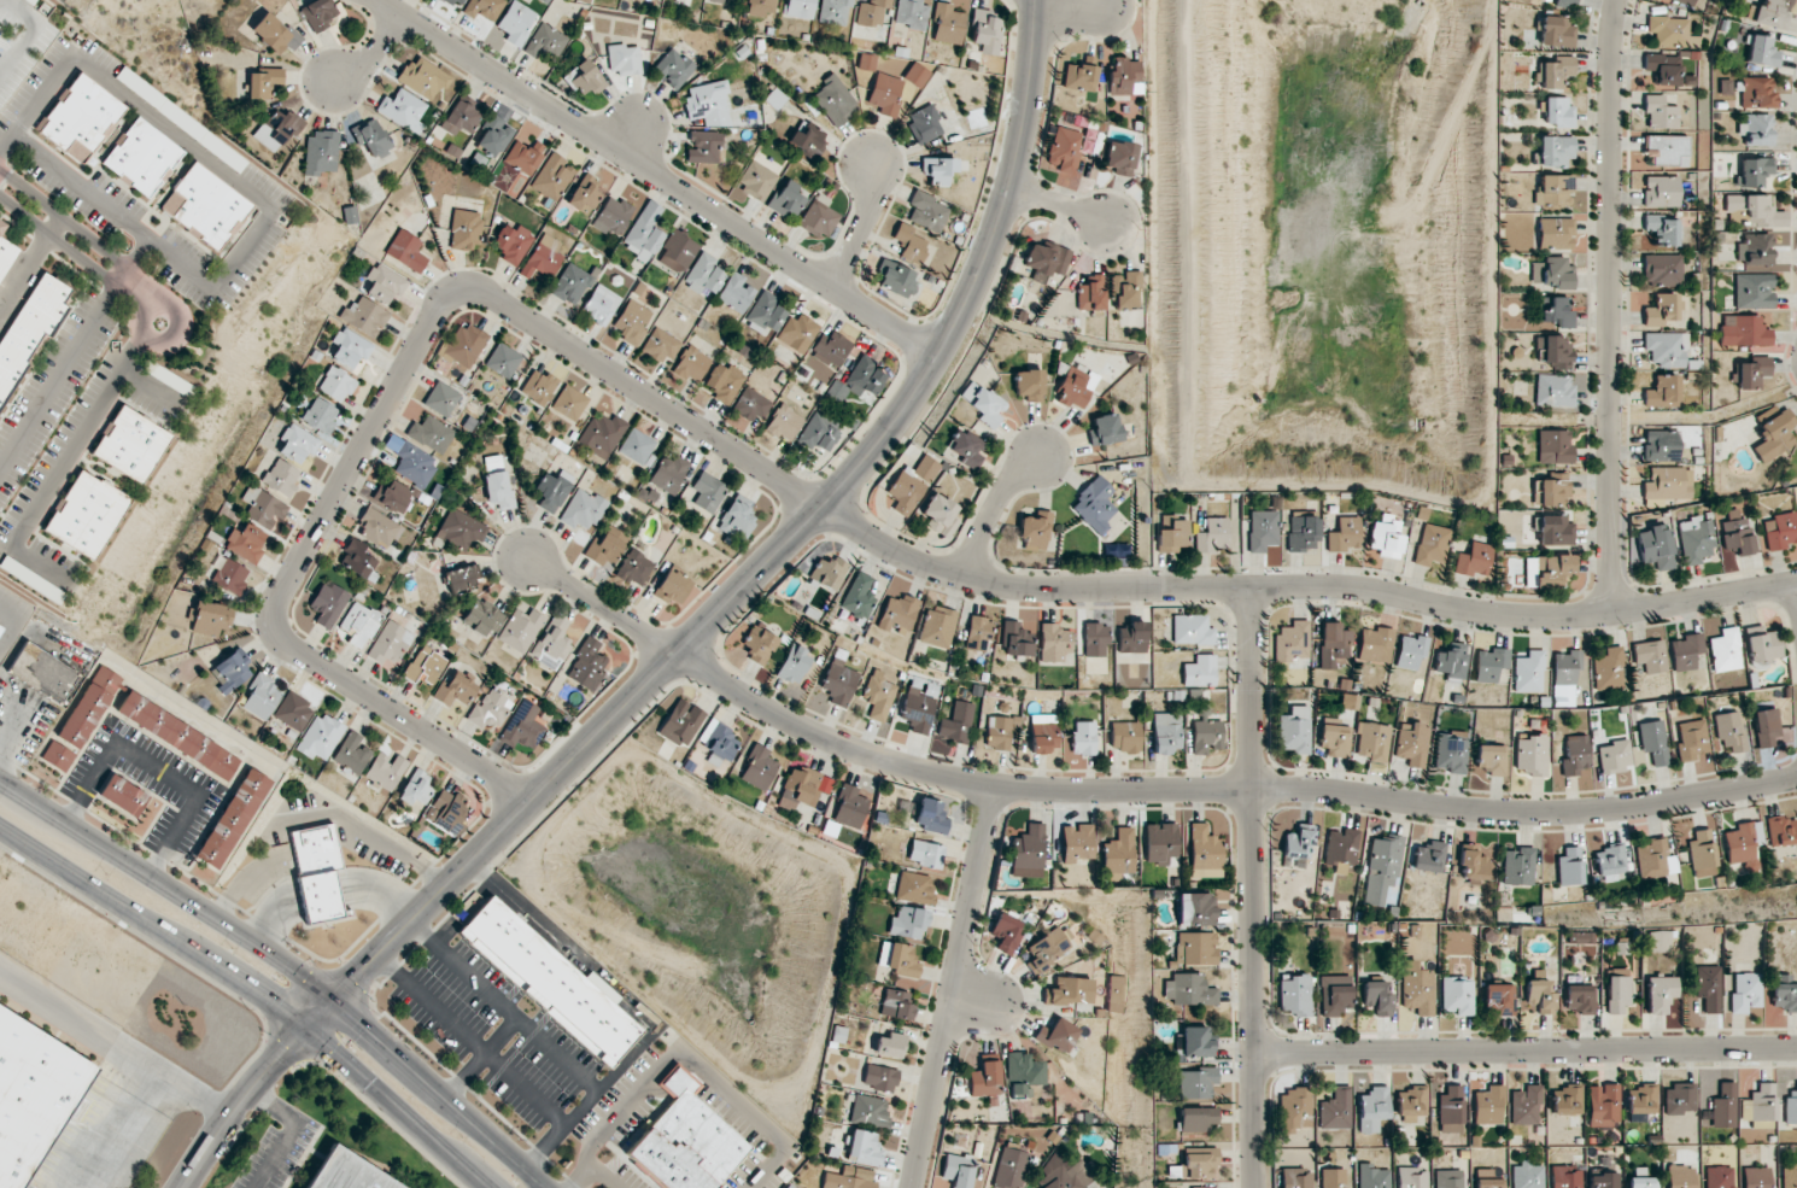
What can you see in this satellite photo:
building: (716, 0)
building: (1685, 1)
building: (456, 2)
road: (1085, 4)
building: (1564, 4)
building: (761, 7)
building: (482, 8)
building: (798, 8)
building: (833, 11)
building: (871, 12)
building: (318, 13)
building: (909, 13)
building: (1766, 13)
building: (515, 22)
building: (947, 24)
building: (1556, 30)
building: (1669, 30)
building: (984, 31)
building: (274, 34)
road: (25, 35)
building: (545, 41)
building: (1760, 51)
road: (374, 53)
building: (624, 59)
building: (866, 62)
building: (673, 68)
building: (1663, 68)
building: (1553, 71)
building: (1079, 74)
building: (915, 75)
building: (1124, 76)
building: (422, 77)
building: (585, 77)
building: (264, 81)
building: (1755, 93)
building: (884, 94)
building: (774, 98)
building: (833, 100)
building: (707, 103)
building: (402, 110)
building: (1557, 112)
building: (1660, 112)
building: (458, 117)
building: (80, 118)
building: (924, 123)
building: (277, 129)
building: (1755, 129)
building: (370, 136)
building: (493, 136)
building: (808, 140)
building: (703, 146)
building: (1064, 148)
building: (1667, 150)
building: (1555, 151)
building: (320, 152)
building: (523, 156)
building: (140, 157)
building: (1119, 157)
building: (937, 169)
building: (1754, 170)
road: (656, 175)
building: (552, 177)
building: (756, 180)
building: (1553, 189)
building: (1661, 191)
building: (584, 192)
building: (785, 199)
road: (1056, 203)
building: (204, 206)
building: (1755, 210)
building: (926, 211)
building: (611, 216)
building: (818, 217)
building: (1, 226)
building: (464, 228)
building: (1663, 229)
building: (643, 232)
road: (859, 232)
building: (1555, 233)
road: (75, 242)
building: (511, 242)
building: (908, 242)
building: (4, 250)
building: (405, 250)
building: (1754, 250)
building: (677, 251)
building: (542, 257)
building: (1046, 259)
building: (1662, 269)
building: (1552, 273)
building: (704, 274)
building: (894, 277)
building: (382, 282)
building: (570, 283)
building: (1125, 288)
building: (1752, 291)
building: (734, 293)
building: (1090, 294)
building: (599, 304)
road: (171, 305)
road: (1610, 305)
building: (1662, 310)
building: (765, 312)
building: (1556, 312)
building: (364, 315)
building: (631, 322)
building: (28, 326)
building: (1742, 330)
building: (796, 332)
building: (464, 345)
building: (660, 345)
building: (349, 347)
building: (830, 349)
building: (1666, 349)
building: (1552, 350)
building: (502, 359)
building: (691, 363)
building: (1750, 373)
building: (859, 376)
building: (722, 382)
building: (335, 384)
building: (1029, 385)
building: (538, 386)
building: (1075, 386)
building: (1553, 390)
building: (1662, 392)
building: (440, 398)
building: (568, 402)
building: (982, 403)
building: (750, 404)
building: (320, 415)
building: (784, 422)
building: (1104, 429)
building: (816, 432)
building: (1773, 432)
building: (429, 433)
building: (601, 434)
building: (297, 443)
building: (129, 444)
building: (1660, 445)
building: (636, 446)
building: (1553, 446)
building: (965, 447)
building: (410, 462)
building: (668, 472)
road: (769, 473)
building: (280, 478)
building: (912, 484)
building: (1668, 484)
building: (497, 485)
building: (551, 490)
road: (833, 490)
building: (1551, 490)
building: (707, 491)
building: (391, 496)
building: (1094, 505)
building: (263, 507)
road: (994, 508)
building: (87, 514)
building: (938, 514)
building: (734, 522)
building: (375, 527)
building: (461, 529)
building: (1262, 529)
building: (1552, 529)
building: (1034, 531)
building: (1779, 531)
building: (1303, 532)
building: (1735, 533)
building: (1171, 534)
building: (1345, 534)
building: (1212, 536)
building: (1386, 536)
building: (1694, 539)
building: (245, 542)
building: (1430, 544)
building: (604, 545)
building: (1653, 546)
building: (356, 558)
building: (1473, 560)
building: (633, 567)
building: (826, 572)
building: (230, 575)
building: (462, 578)
building: (30, 580)
building: (671, 585)
building: (857, 596)
building: (328, 603)
road: (599, 607)
building: (897, 614)
building: (481, 616)
building: (209, 618)
building: (359, 624)
building: (936, 626)
building: (0, 628)
building: (520, 630)
building: (1192, 630)
building: (977, 633)
building: (1131, 638)
building: (1094, 639)
building: (1014, 640)
building: (388, 644)
building: (757, 644)
building: (1054, 644)
building: (1333, 644)
building: (1374, 644)
building: (551, 646)
building: (1762, 646)
building: (1725, 650)
building: (1410, 651)
building: (1685, 651)
building: (1649, 656)
building: (1448, 662)
building: (1489, 663)
building: (586, 665)
building: (792, 665)
building: (423, 666)
building: (1608, 669)
building: (232, 671)
building: (1199, 671)
building: (1528, 672)
building: (41, 673)
building: (1564, 677)
building: (838, 681)
building: (453, 690)
building: (878, 695)
building: (261, 696)
building: (89, 707)
building: (918, 708)
building: (293, 710)
building: (490, 710)
building: (680, 722)
building: (956, 722)
building: (522, 726)
building: (1764, 727)
building: (1294, 730)
building: (1727, 731)
building: (997, 732)
building: (1165, 732)
building: (176, 735)
building: (1124, 736)
building: (1206, 736)
building: (318, 737)
building: (1043, 737)
building: (1083, 737)
building: (1334, 739)
building: (1690, 739)
building: (716, 742)
building: (1371, 742)
building: (1652, 742)
building: (1411, 743)
building: (1450, 751)
building: (351, 753)
building: (1529, 754)
building: (57, 755)
building: (1574, 755)
building: (1614, 756)
building: (1489, 759)
building: (757, 767)
building: (385, 769)
building: (415, 788)
building: (800, 788)
road: (1222, 788)
building: (123, 796)
building: (849, 807)
building: (446, 810)
building: (930, 815)
building: (232, 819)
building: (1781, 830)
building: (1159, 842)
building: (1298, 842)
building: (1076, 843)
building: (1743, 844)
building: (1340, 849)
building: (1026, 852)
building: (1117, 852)
building: (1202, 852)
building: (925, 853)
building: (1701, 853)
building: (1428, 856)
building: (1655, 859)
building: (1610, 860)
building: (1473, 865)
building: (1517, 866)
building: (1569, 866)
building: (1381, 868)
building: (317, 873)
building: (914, 888)
road: (1252, 888)
building: (1194, 908)
building: (908, 923)
road: (152, 924)
building: (1005, 932)
building: (1579, 937)
building: (1657, 941)
building: (1048, 948)
building: (1195, 948)
road: (379, 950)
building: (897, 959)
road: (286, 964)
building: (550, 982)
road: (950, 985)
building: (1708, 987)
building: (1416, 988)
building: (1187, 989)
building: (1069, 990)
building: (1617, 990)
building: (1744, 991)
building: (1116, 993)
building: (1539, 993)
building: (1660, 993)
building: (1783, 993)
building: (1294, 994)
building: (1334, 995)
building: (1456, 995)
building: (1376, 997)
building: (1580, 997)
building: (1498, 999)
traffic signals: (332, 1000)
building: (896, 1003)
traffic signals: (304, 1026)
building: (1055, 1035)
building: (1195, 1042)
building: (889, 1043)
road: (1524, 1049)
road: (687, 1060)
road: (103, 1066)
building: (1023, 1073)
building: (879, 1078)
building: (984, 1079)
building: (1195, 1083)
building: (31, 1094)
building: (1679, 1099)
building: (1565, 1100)
building: (1641, 1100)
building: (1411, 1104)
building: (1758, 1104)
road: (239, 1105)
road: (398, 1105)
building: (1488, 1105)
building: (1524, 1105)
building: (1603, 1105)
building: (1723, 1106)
building: (1791, 1106)
building: (1372, 1108)
building: (868, 1110)
building: (1294, 1110)
building: (1335, 1110)
building: (1450, 1110)
building: (1198, 1118)
road: (288, 1131)
building: (686, 1140)
building: (864, 1147)
building: (1196, 1163)
building: (1009, 1165)
building: (956, 1170)
building: (347, 1172)
building: (1527, 1175)
building: (1371, 1176)
building: (1680, 1176)
building: (1789, 1176)
road: (605, 1177)
building: (1066, 1177)
building: (1411, 1177)
building: (1564, 1177)
building: (1717, 1177)
building: (1755, 1177)
building: (848, 1178)
building: (1295, 1178)
building: (1333, 1178)
building: (1448, 1178)
building: (1486, 1178)
building: (1640, 1178)
building: (1602, 1180)
building: (1204, 1187)

